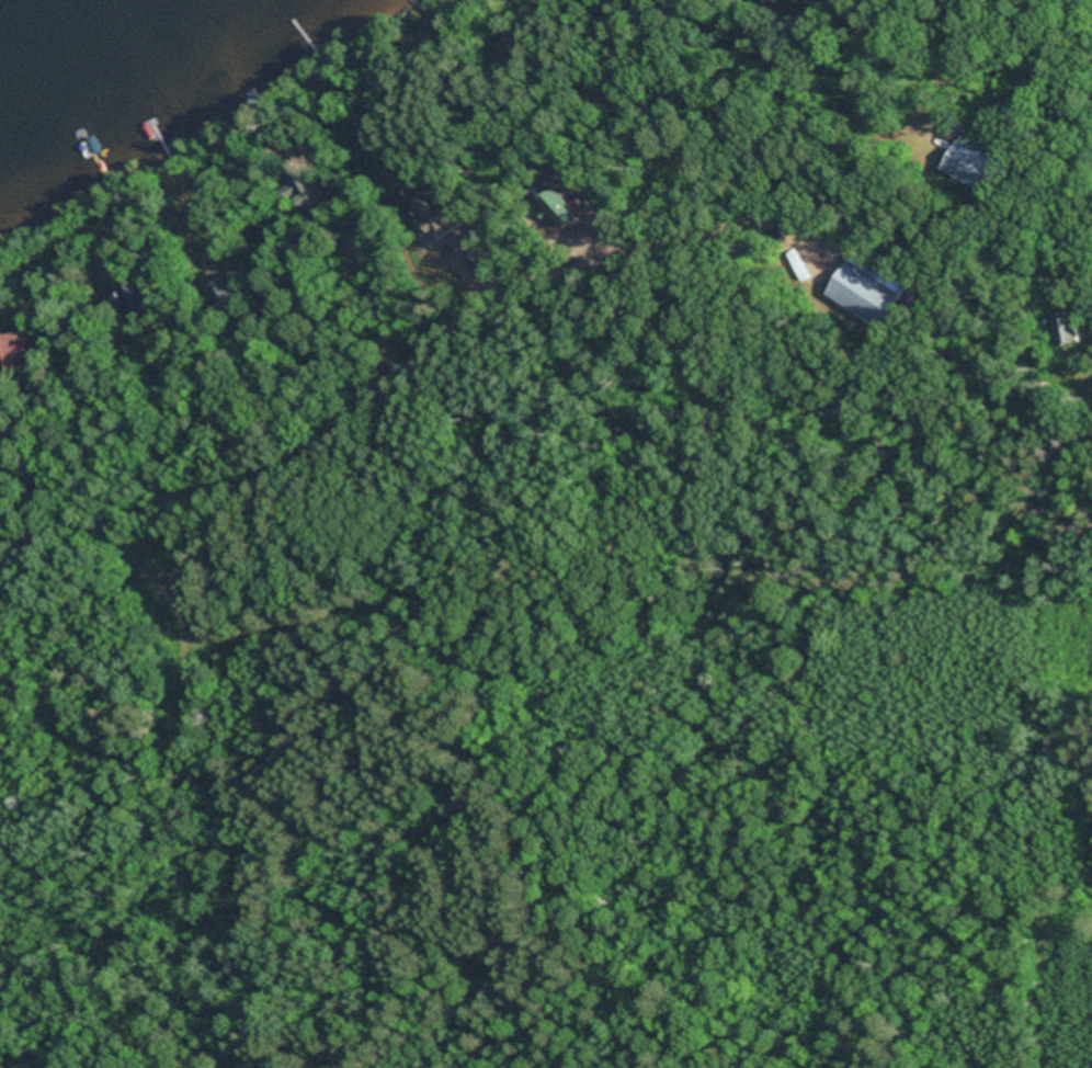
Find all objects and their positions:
building: (974, 166)
building: (308, 193)
building: (556, 207)
building: (864, 296)
building: (136, 297)
building: (1067, 330)
building: (19, 354)
road: (110, 539)

